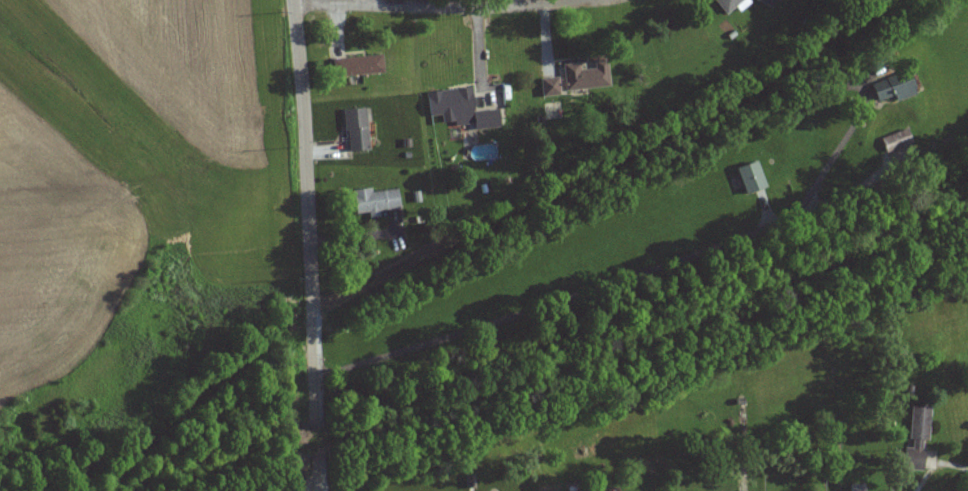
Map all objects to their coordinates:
road: (520, 3)
road: (438, 8)
building: (355, 66)
building: (583, 77)
building: (548, 87)
building: (891, 88)
building: (354, 129)
building: (897, 140)
building: (748, 177)
building: (372, 202)
road: (309, 245)
road: (619, 277)
building: (913, 440)
road: (948, 460)

